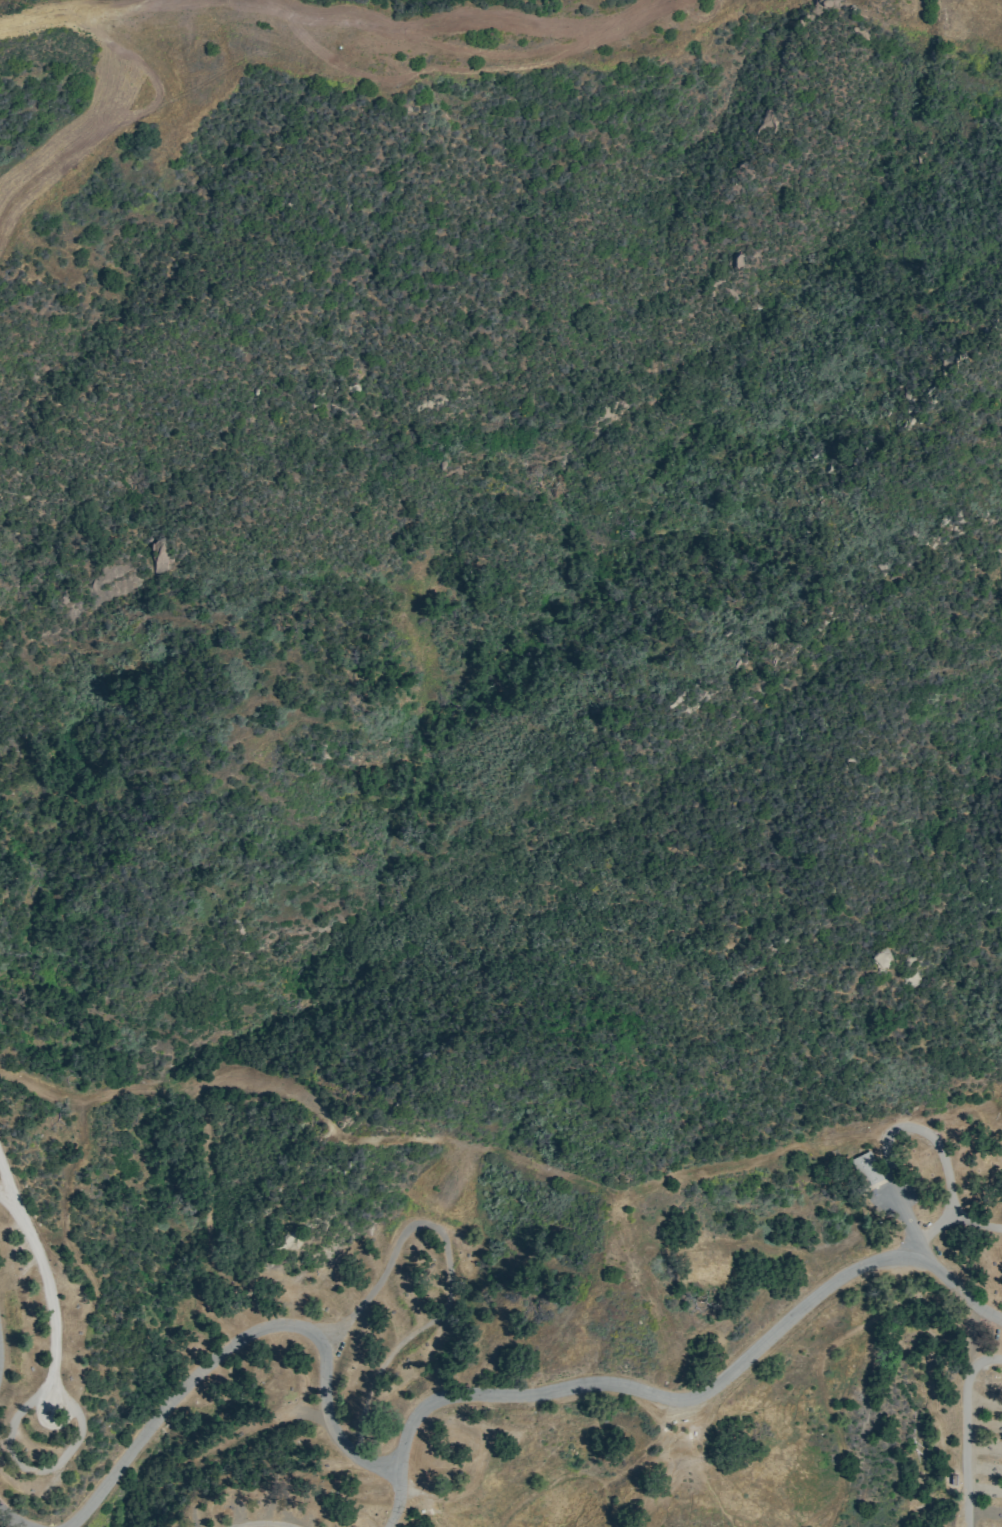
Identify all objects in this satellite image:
road: (260, 14)
road: (79, 53)
park: (501, 763)
road: (950, 1112)
road: (942, 1160)
building: (863, 1170)
road: (892, 1196)
road: (5, 1200)
road: (957, 1223)
road: (449, 1273)
road: (47, 1282)
road: (215, 1350)
road: (696, 1386)
road: (963, 1430)
road: (35, 1471)
road: (424, 1499)
road: (394, 1502)
road: (432, 1517)
road: (264, 1518)

